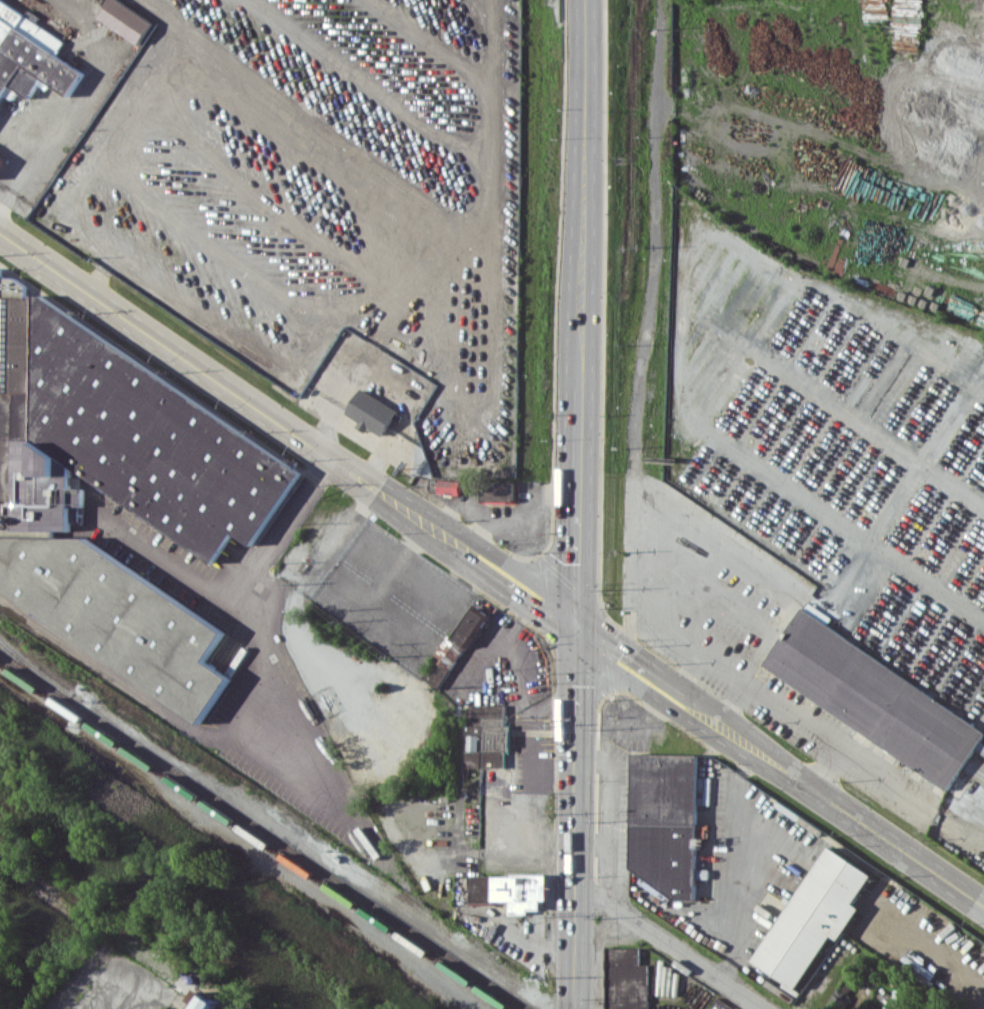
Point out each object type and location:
building: (126, 19)
building: (31, 53)
road: (587, 73)
building: (1, 160)
road: (28, 165)
road: (582, 306)
building: (371, 412)
road: (356, 428)
road: (359, 478)
building: (448, 486)
building: (118, 492)
building: (498, 492)
road: (337, 530)
road: (578, 546)
building: (364, 571)
road: (232, 602)
road: (517, 619)
traffic signals: (577, 627)
building: (439, 645)
road: (686, 669)
road: (761, 688)
building: (872, 697)
road: (294, 701)
road: (732, 701)
road: (550, 702)
road: (523, 704)
road: (732, 733)
building: (488, 736)
road: (823, 764)
railway: (204, 796)
road: (608, 815)
road: (576, 818)
building: (664, 821)
road: (865, 824)
railway: (263, 830)
railway: (255, 836)
road: (592, 841)
road: (735, 862)
building: (510, 890)
building: (815, 916)
railway: (420, 942)
road: (671, 944)
building: (525, 952)
road: (865, 953)
building: (871, 975)
building: (627, 979)
road: (127, 997)
building: (206, 1002)

